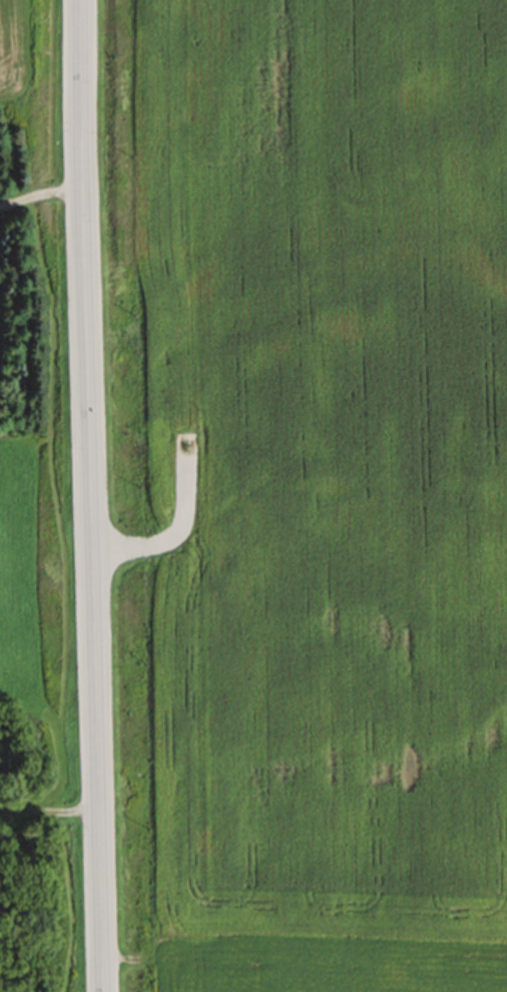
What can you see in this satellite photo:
road: (90, 495)

